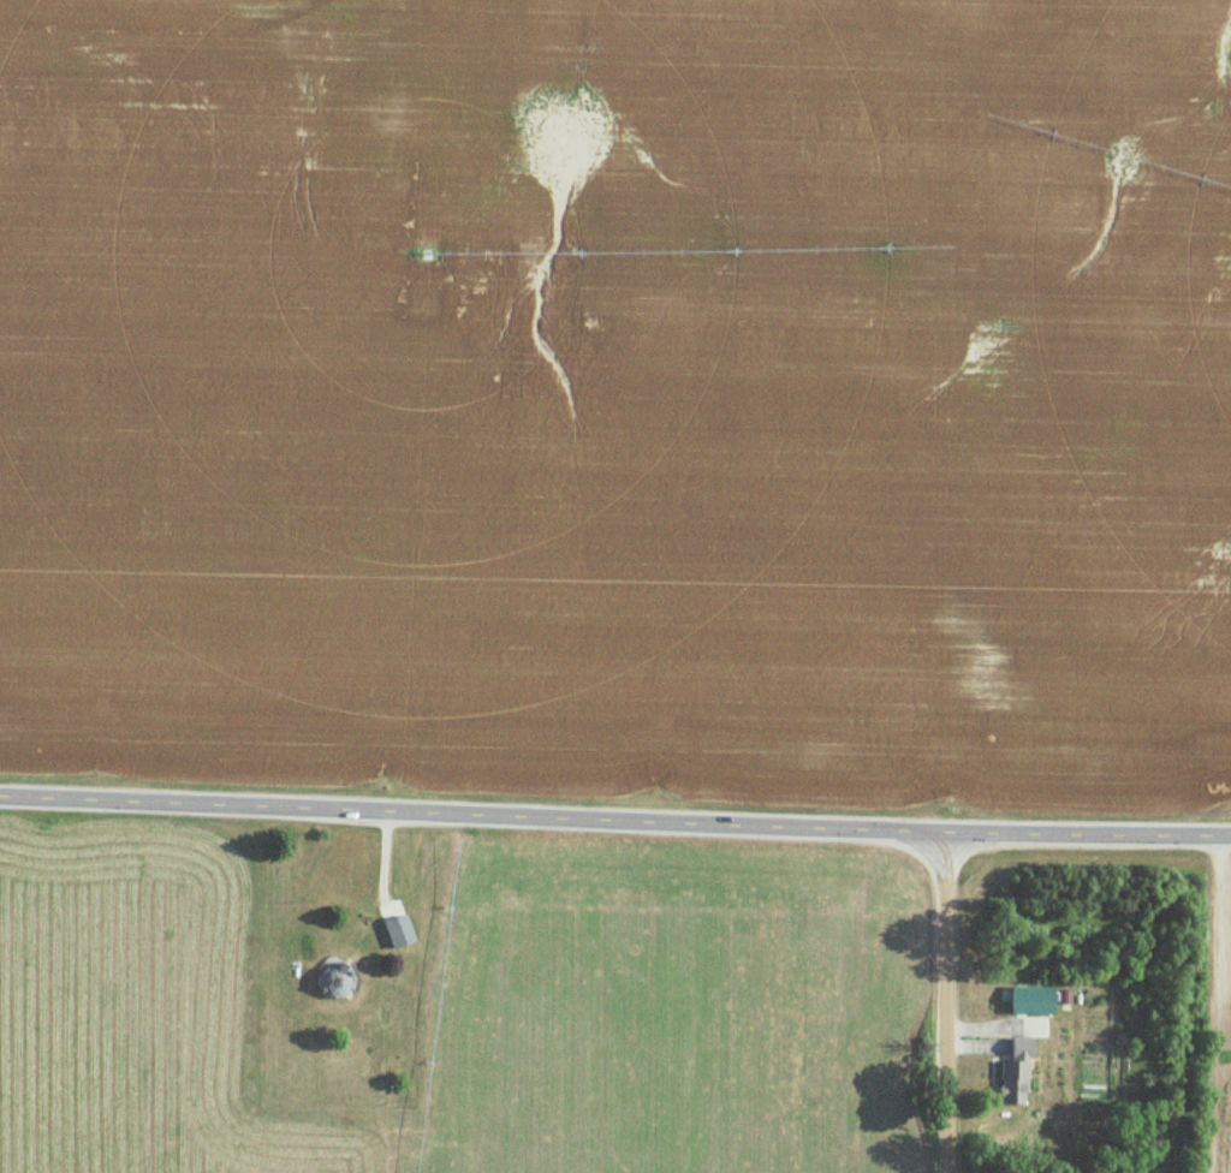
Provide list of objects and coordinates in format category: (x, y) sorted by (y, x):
road: (472, 814)
road: (1088, 834)
building: (398, 931)
building: (334, 978)
road: (948, 1002)
building: (1019, 1062)

